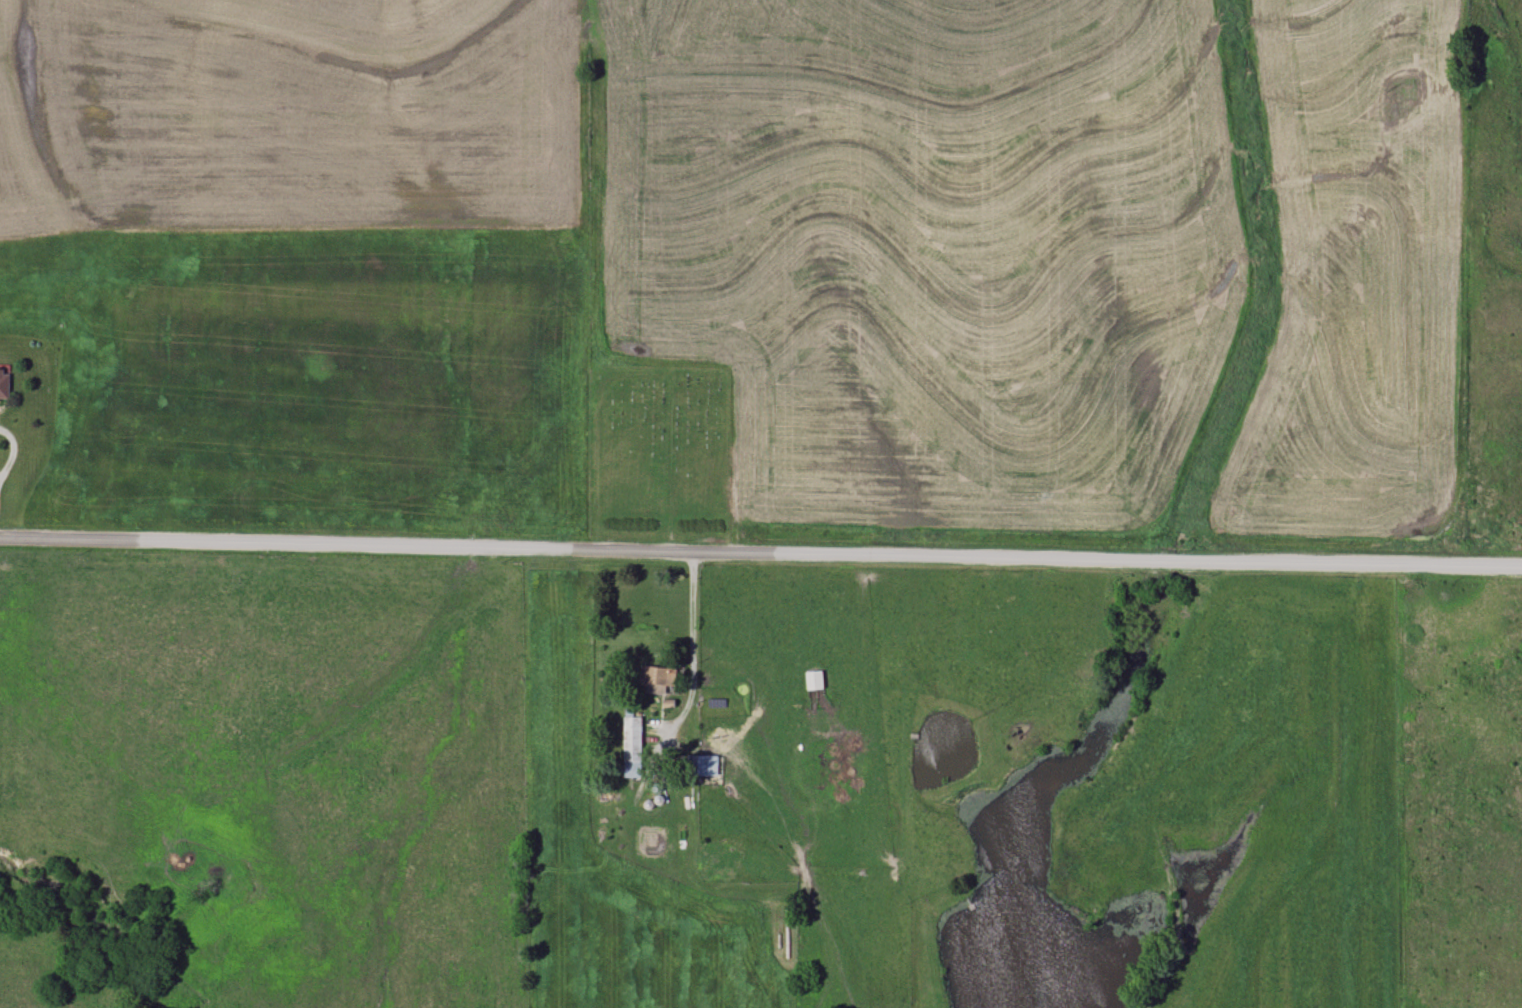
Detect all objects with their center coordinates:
building: (4, 387)
road: (12, 452)
park: (659, 455)
road: (760, 552)
road: (692, 648)
building: (657, 680)
building: (816, 682)
building: (632, 747)
building: (697, 767)

